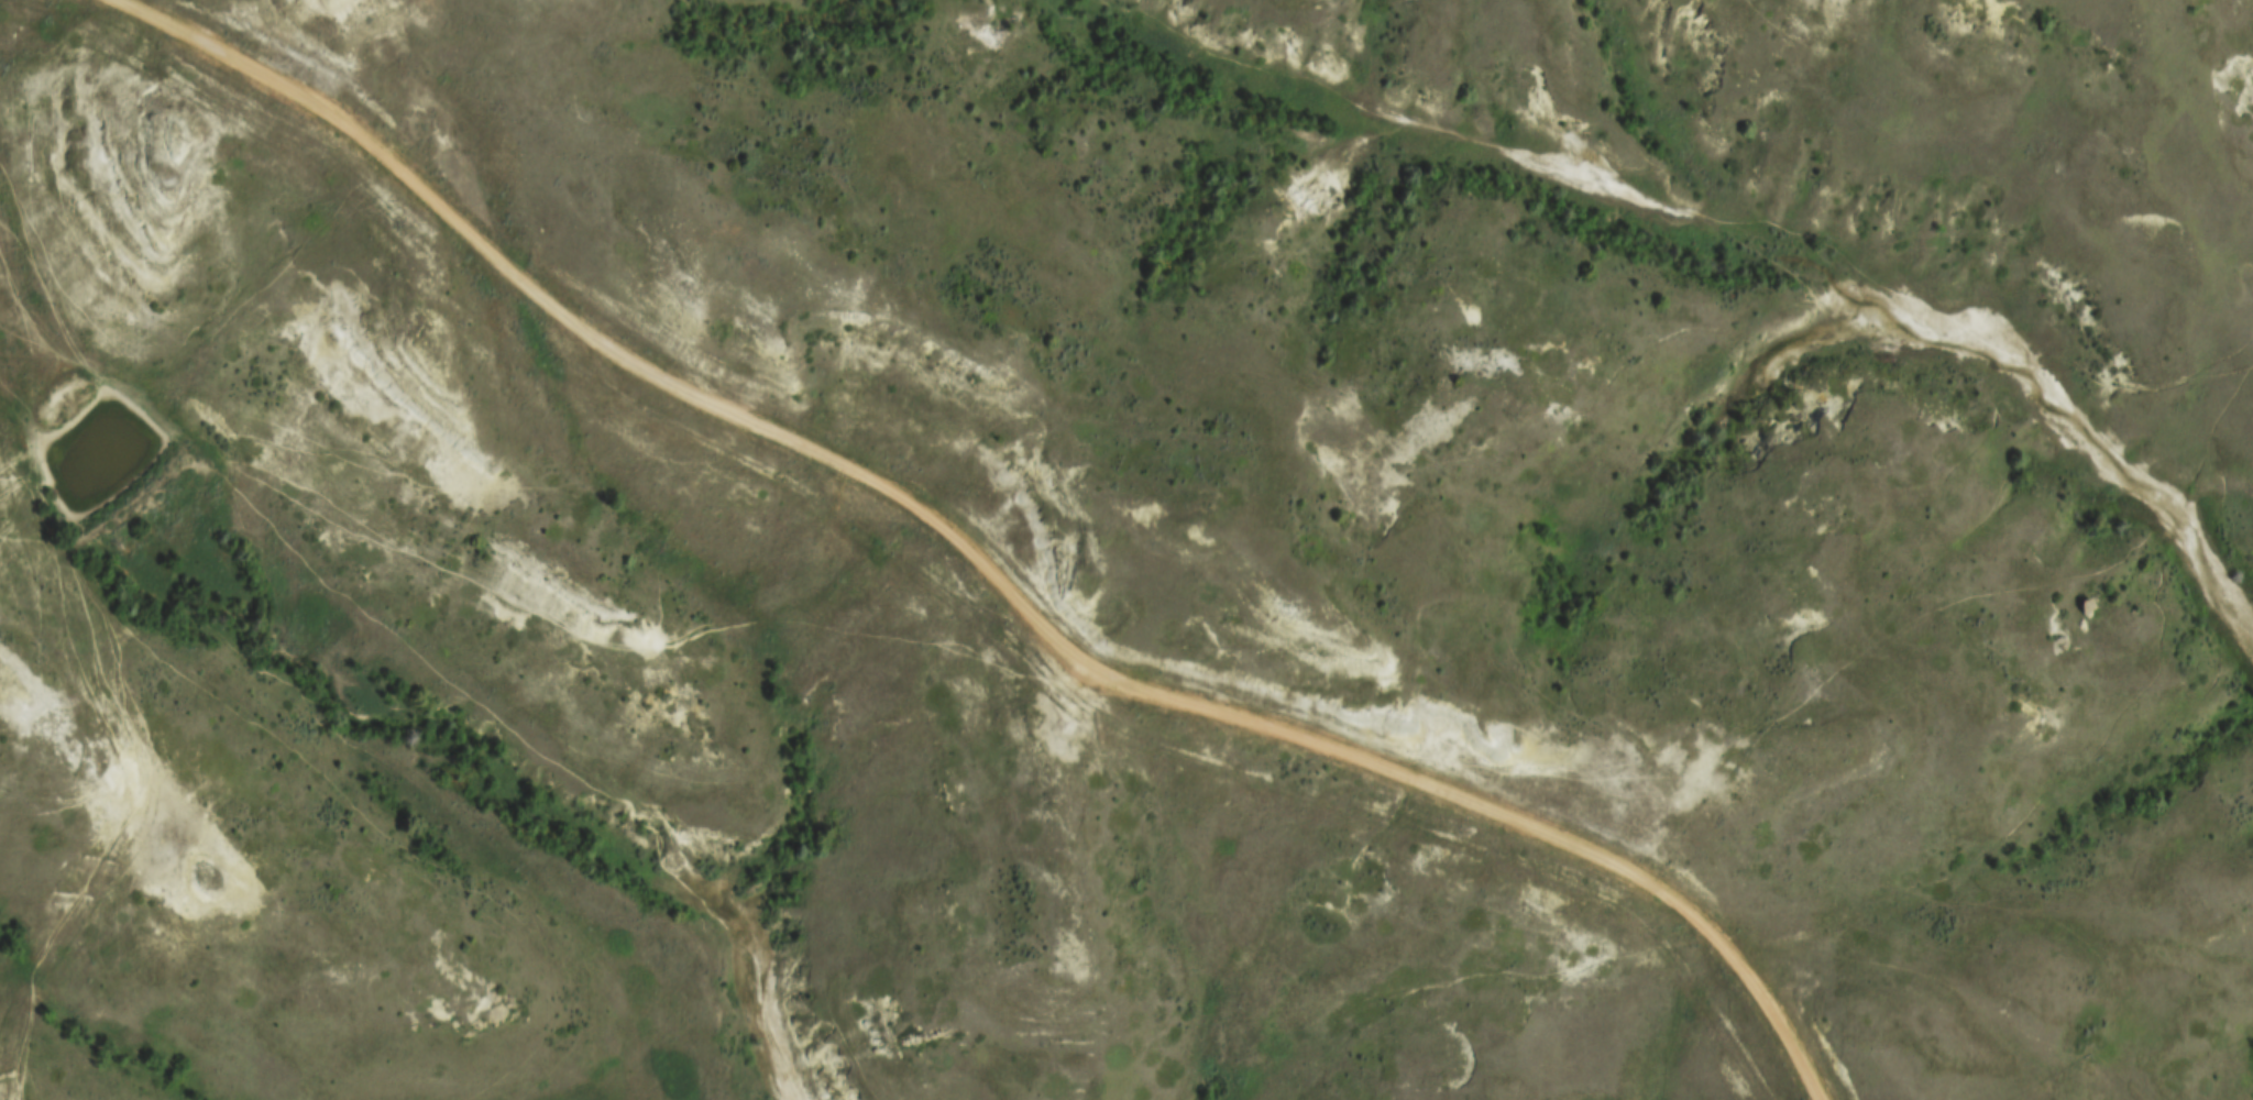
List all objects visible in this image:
road: (975, 559)

